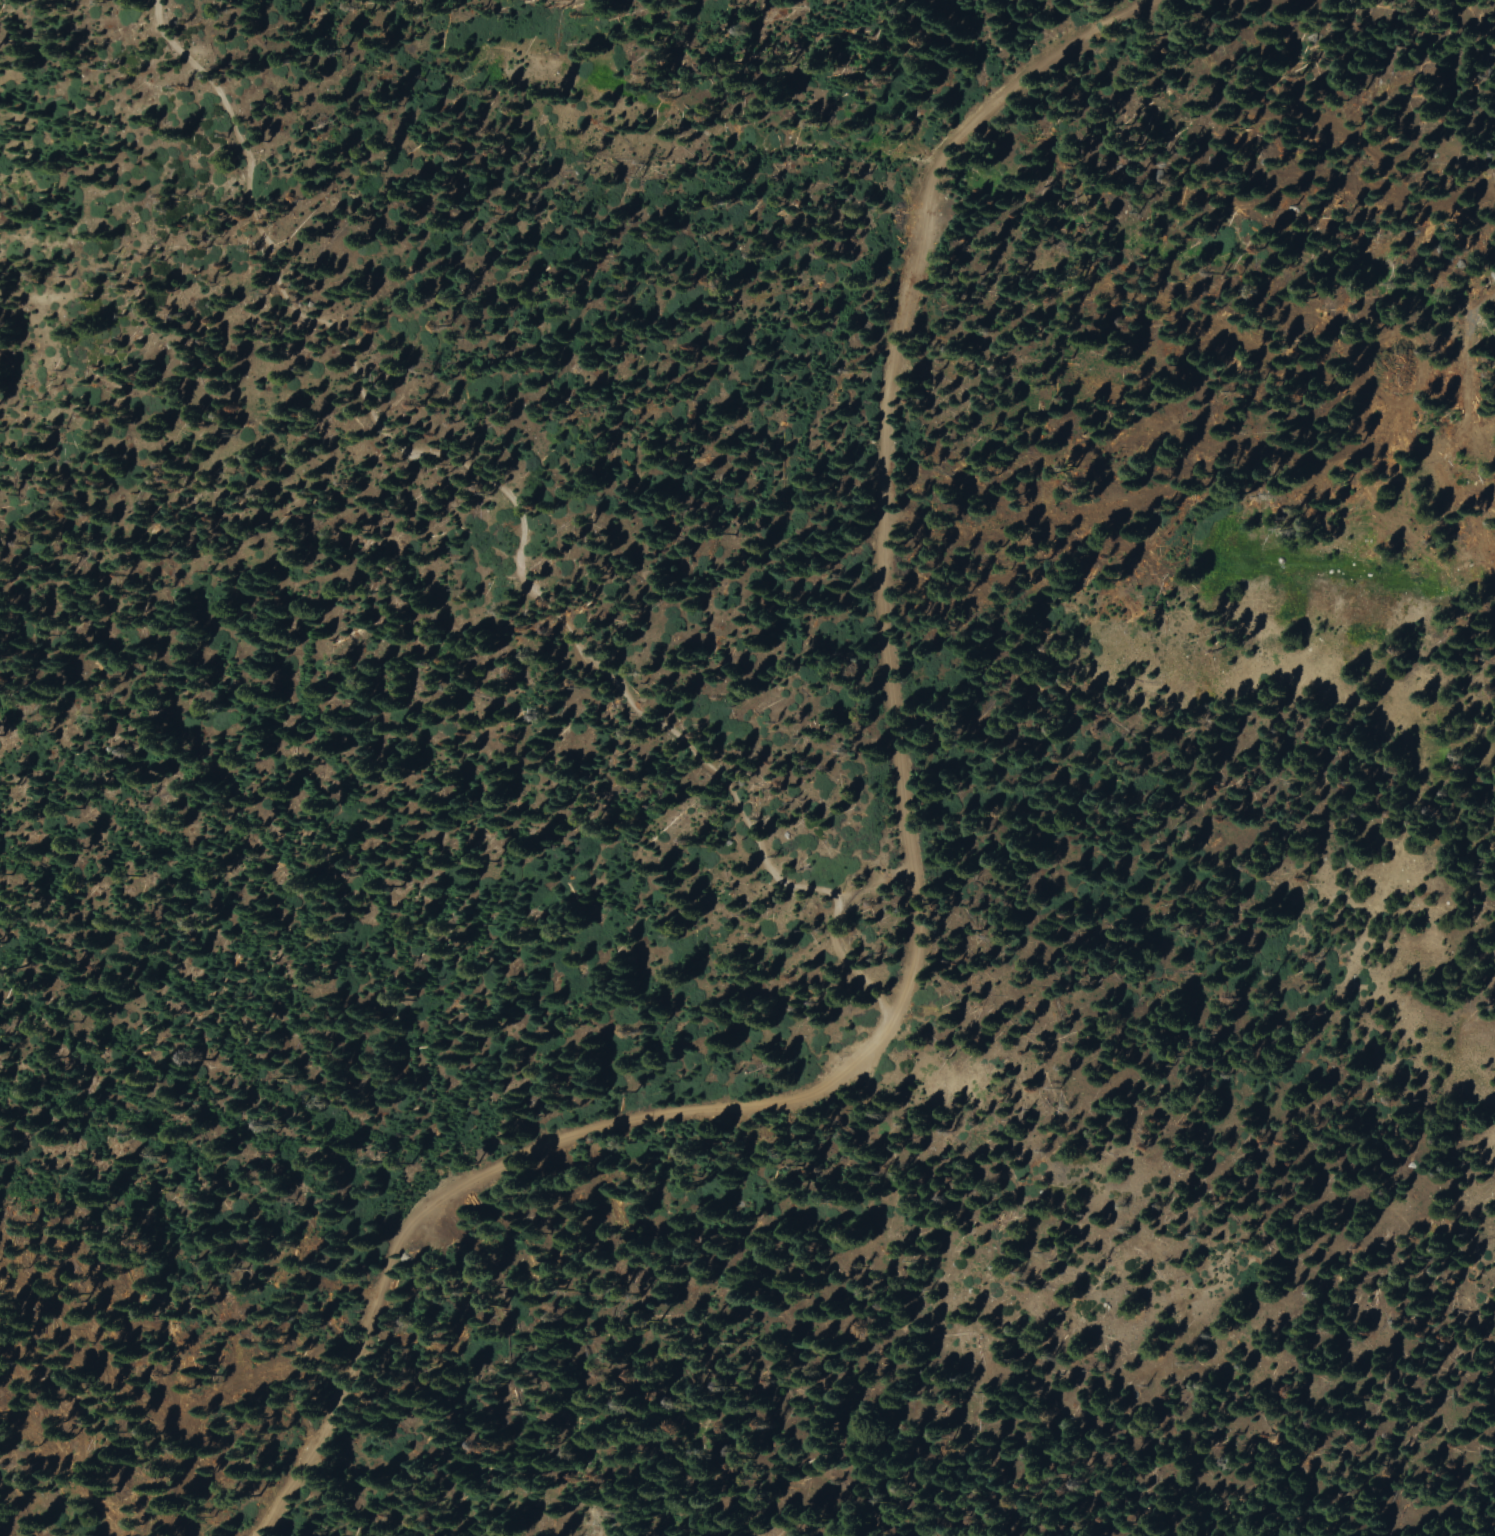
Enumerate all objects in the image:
road: (502, 487)
road: (916, 903)

